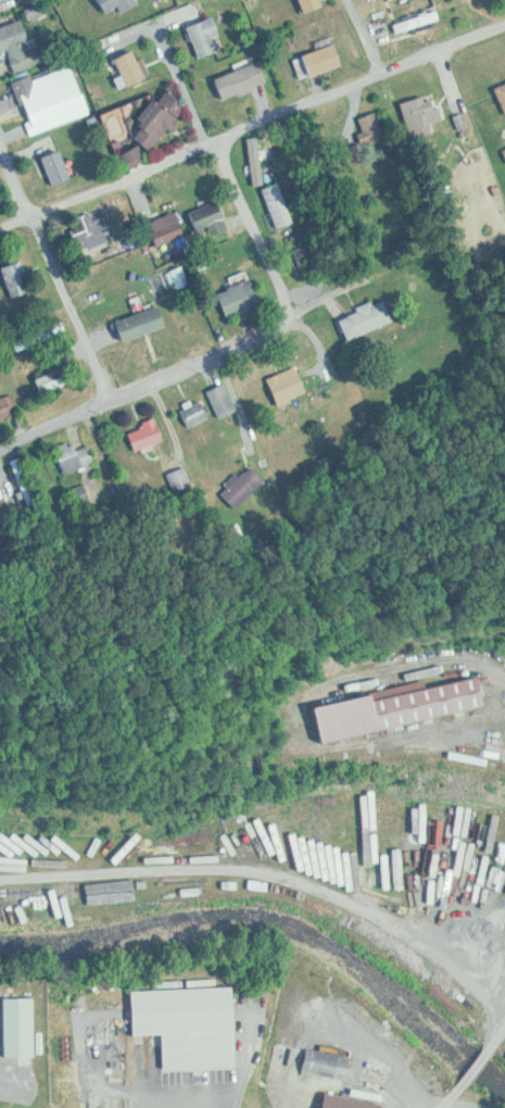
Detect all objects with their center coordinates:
building: (313, 3)
building: (119, 4)
building: (201, 36)
road: (365, 36)
building: (20, 43)
building: (321, 61)
building: (131, 67)
building: (238, 79)
building: (498, 96)
building: (50, 103)
building: (425, 112)
road: (254, 121)
building: (153, 126)
building: (59, 166)
road: (223, 166)
building: (280, 204)
building: (210, 213)
building: (171, 228)
building: (93, 230)
road: (59, 260)
building: (114, 270)
building: (20, 278)
road: (330, 293)
building: (243, 297)
building: (362, 317)
building: (54, 381)
road: (149, 381)
building: (291, 383)
building: (227, 400)
building: (9, 407)
building: (200, 413)
building: (151, 435)
building: (80, 456)
building: (189, 478)
building: (28, 480)
building: (254, 486)
building: (2, 500)
building: (399, 708)
road: (255, 877)
river: (280, 922)
road: (493, 999)
building: (191, 1025)
building: (330, 1063)
road: (475, 1071)
road: (453, 1100)
building: (343, 1101)

